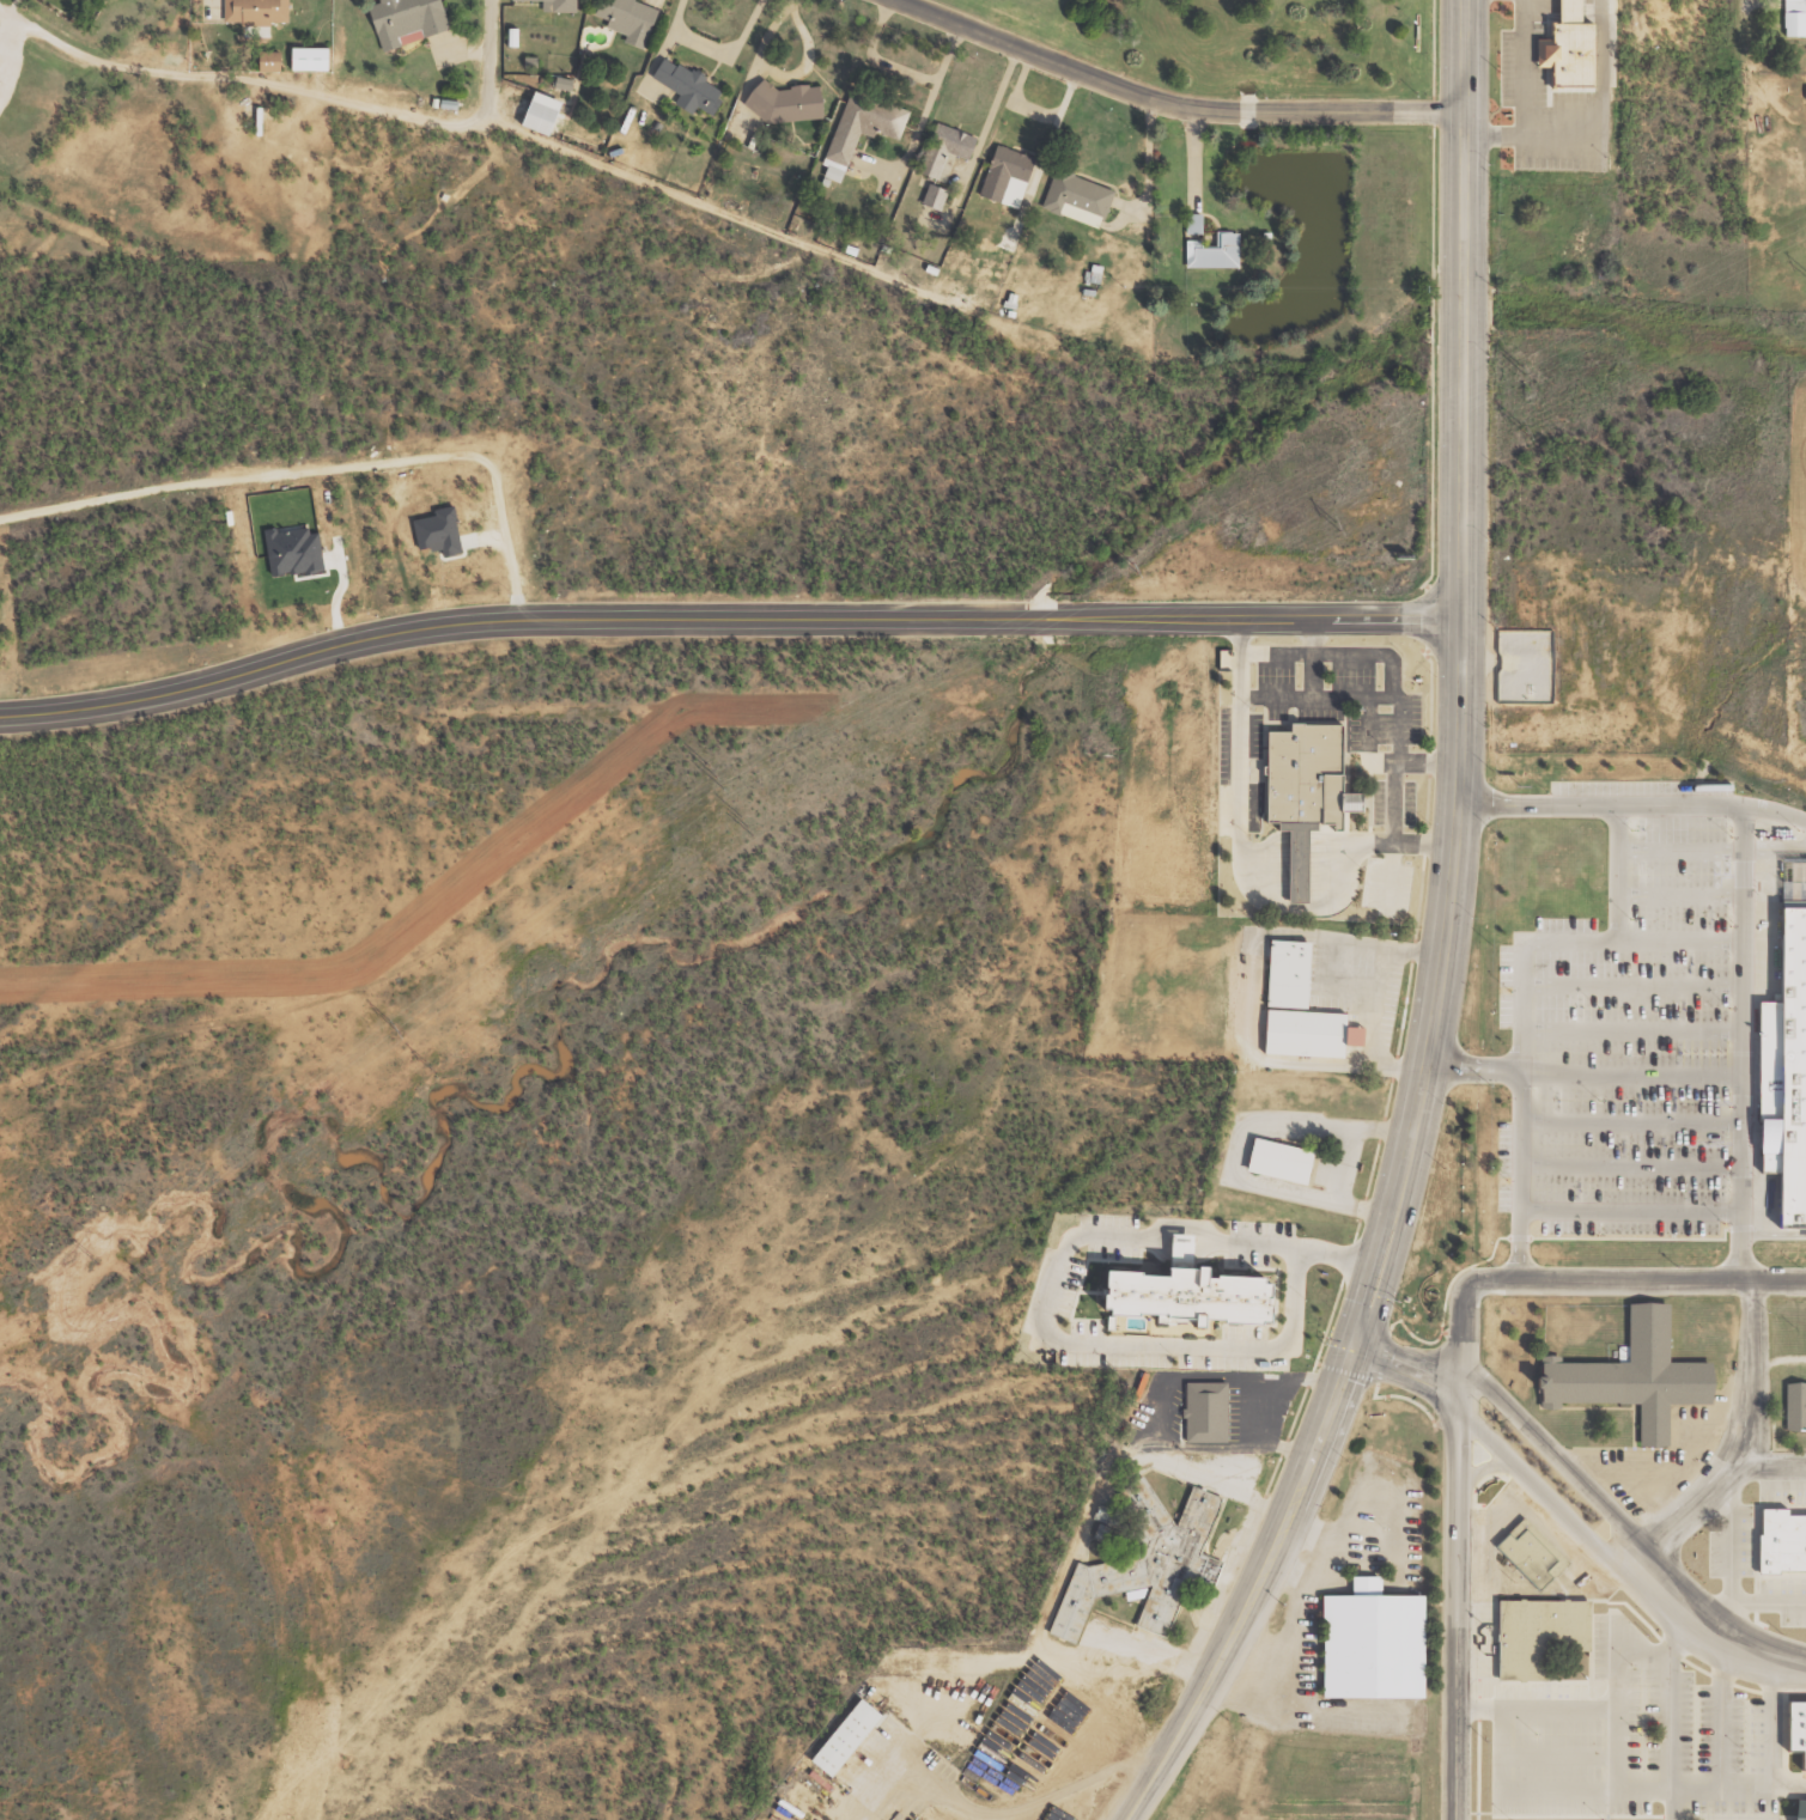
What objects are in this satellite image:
building: (548, 7)
building: (260, 11)
building: (1794, 18)
building: (411, 19)
building: (621, 23)
park: (1245, 43)
building: (507, 44)
building: (1563, 54)
building: (316, 59)
road: (481, 60)
building: (276, 61)
building: (1, 81)
building: (1804, 92)
building: (685, 93)
road: (1174, 105)
building: (779, 109)
building: (548, 114)
building: (535, 121)
building: (852, 132)
building: (940, 158)
building: (1001, 175)
building: (1074, 202)
building: (929, 203)
building: (1203, 255)
power tower: (1418, 410)
power tower: (1527, 427)
power tower: (1334, 524)
building: (443, 531)
building: (296, 549)
power tower: (1133, 567)
road: (728, 621)
power tower: (1051, 670)
road: (1466, 678)
building: (1308, 777)
power tower: (717, 781)
road: (1542, 805)
road: (1713, 809)
power tower: (747, 826)
road: (1617, 876)
road: (1747, 883)
road: (1628, 946)
building: (1295, 978)
power tower: (395, 1028)
building: (1301, 1033)
road: (1628, 1035)
power tower: (434, 1070)
road: (1585, 1077)
building: (1782, 1084)
road: (1519, 1110)
road: (1738, 1114)
road: (1629, 1127)
building: (1273, 1168)
road: (1629, 1170)
road: (1629, 1217)
power tower: (93, 1261)
road: (1586, 1279)
power tower: (152, 1283)
road: (1048, 1294)
building: (1179, 1308)
traffic signals: (1354, 1344)
road: (1405, 1364)
building: (1630, 1384)
building: (1795, 1406)
building: (1205, 1412)
road: (1741, 1442)
road: (1558, 1457)
road: (1769, 1467)
road: (1536, 1485)
building: (1778, 1550)
building: (1528, 1552)
building: (1145, 1563)
road: (1260, 1590)
building: (1133, 1594)
road: (1458, 1602)
road: (1711, 1632)
building: (1539, 1633)
building: (1366, 1650)
building: (843, 1737)
building: (1794, 1741)
building: (1798, 1815)

